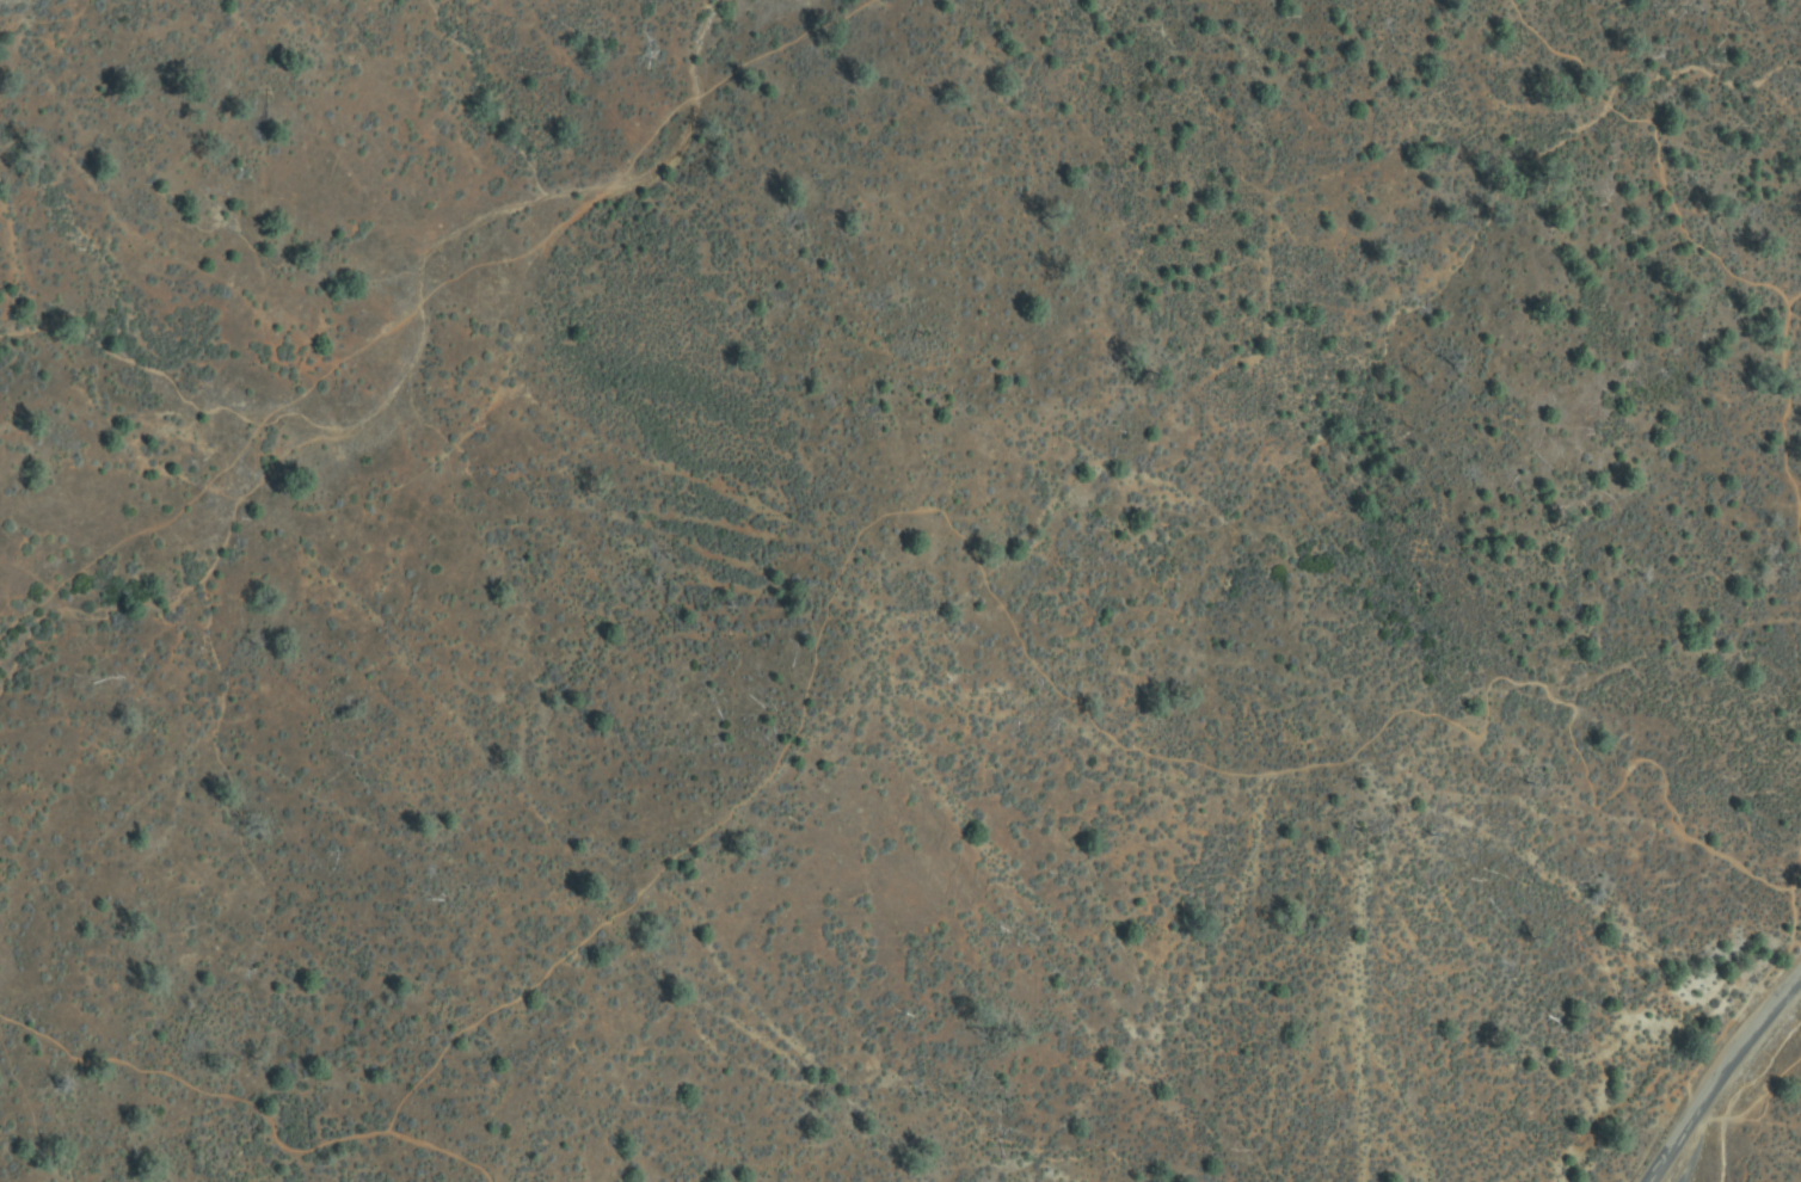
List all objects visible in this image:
road: (609, 192)
road: (1708, 1059)
road: (252, 1107)
road: (1739, 1108)

